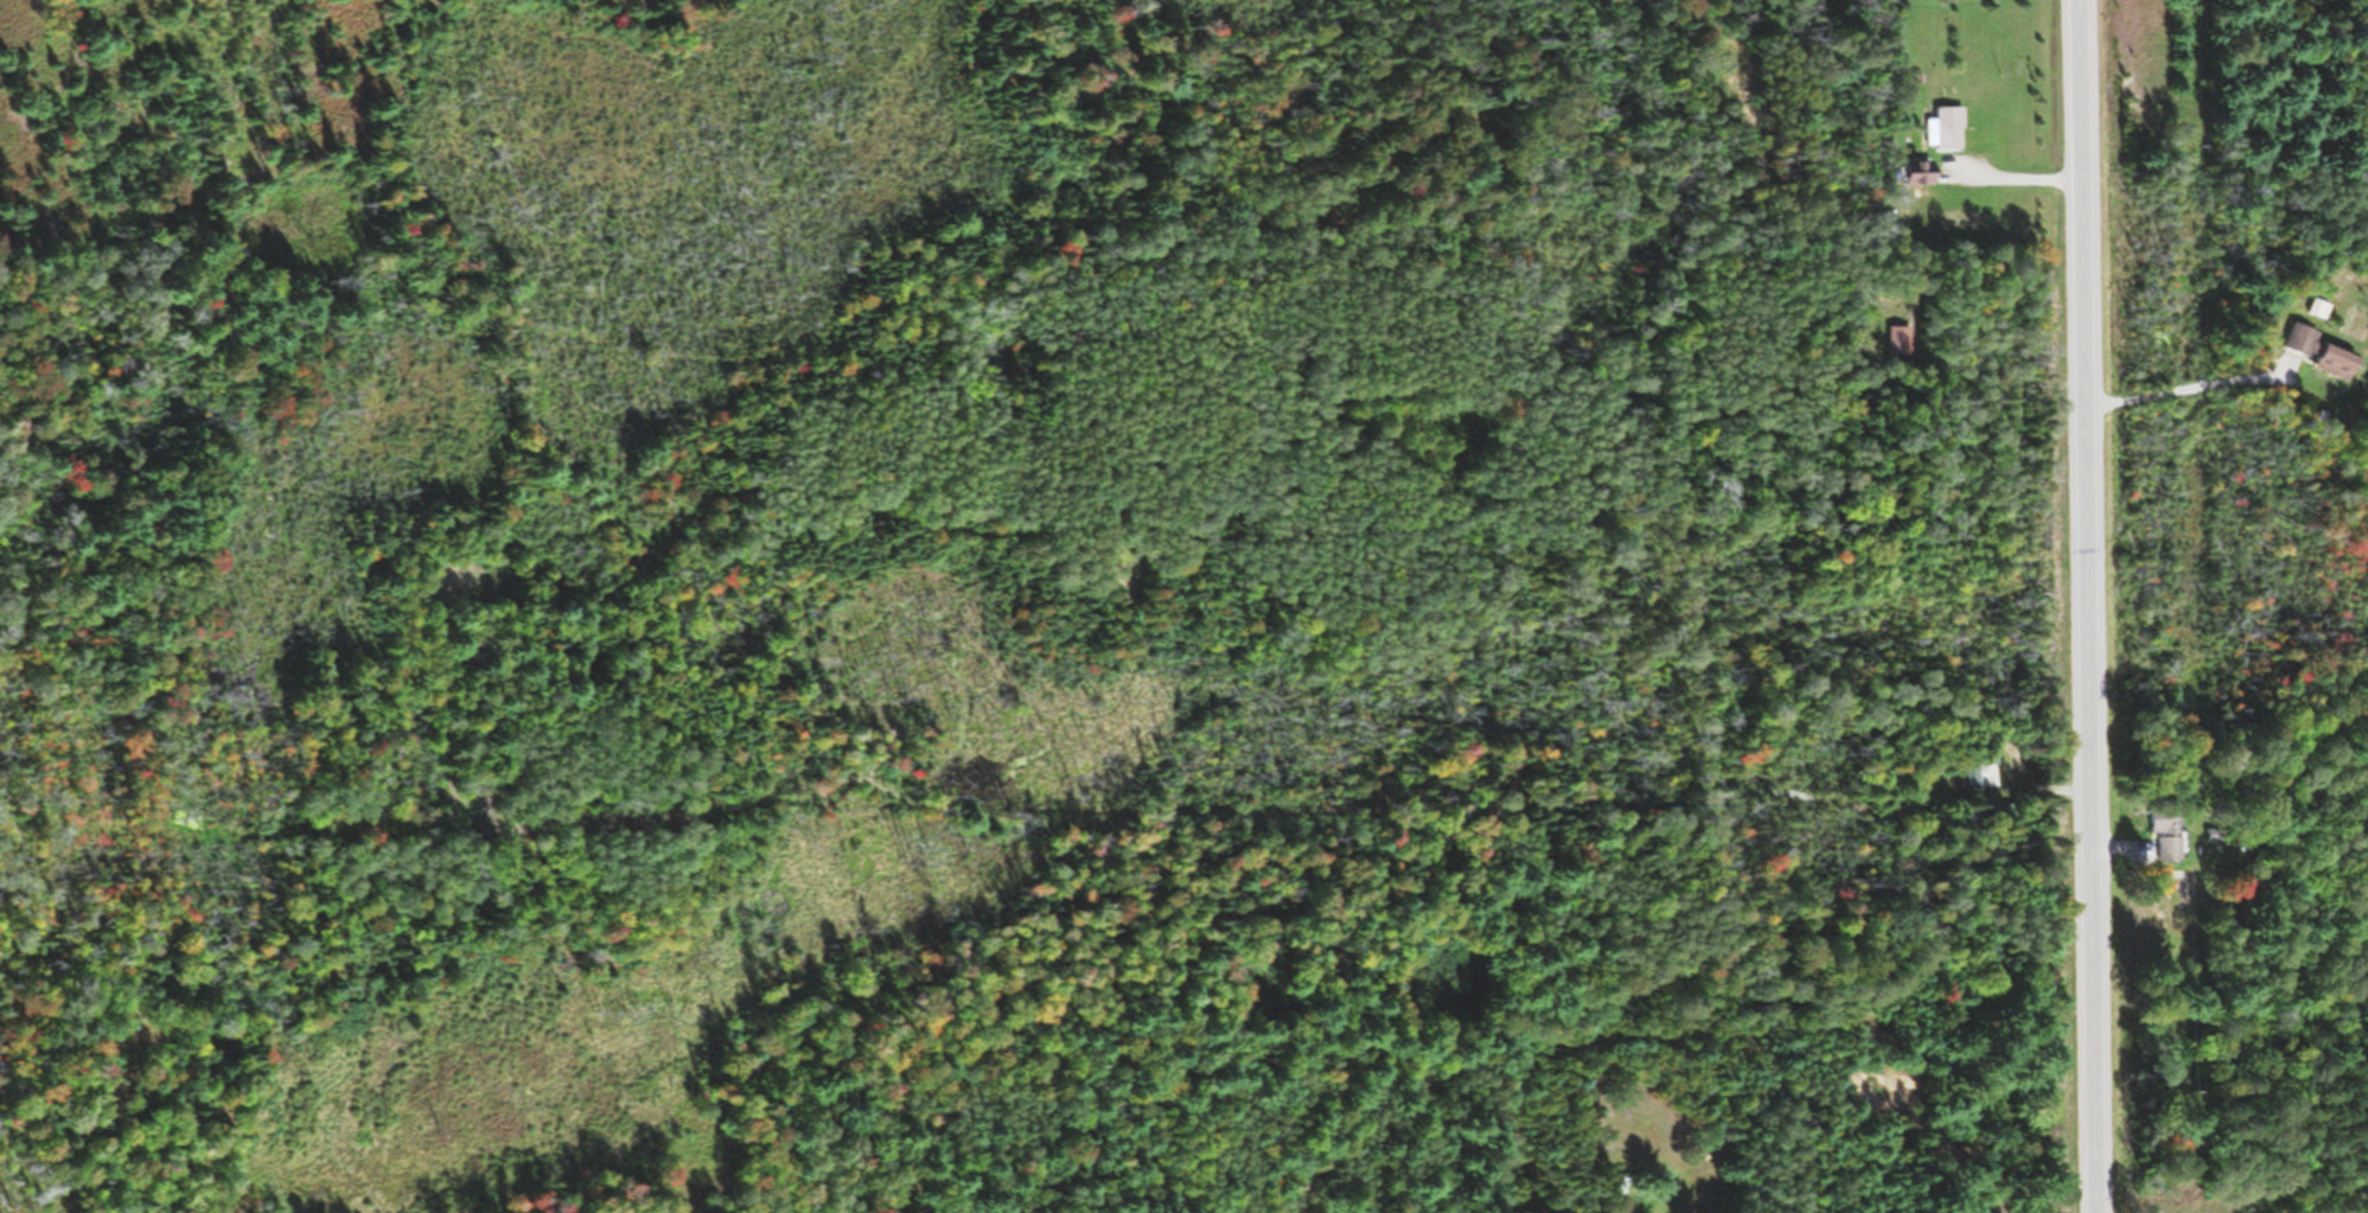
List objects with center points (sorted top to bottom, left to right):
building: (1947, 128)
building: (1920, 173)
building: (1949, 200)
building: (1902, 230)
building: (2321, 308)
building: (2340, 362)
road: (2092, 606)
building: (1980, 777)
building: (2171, 847)

